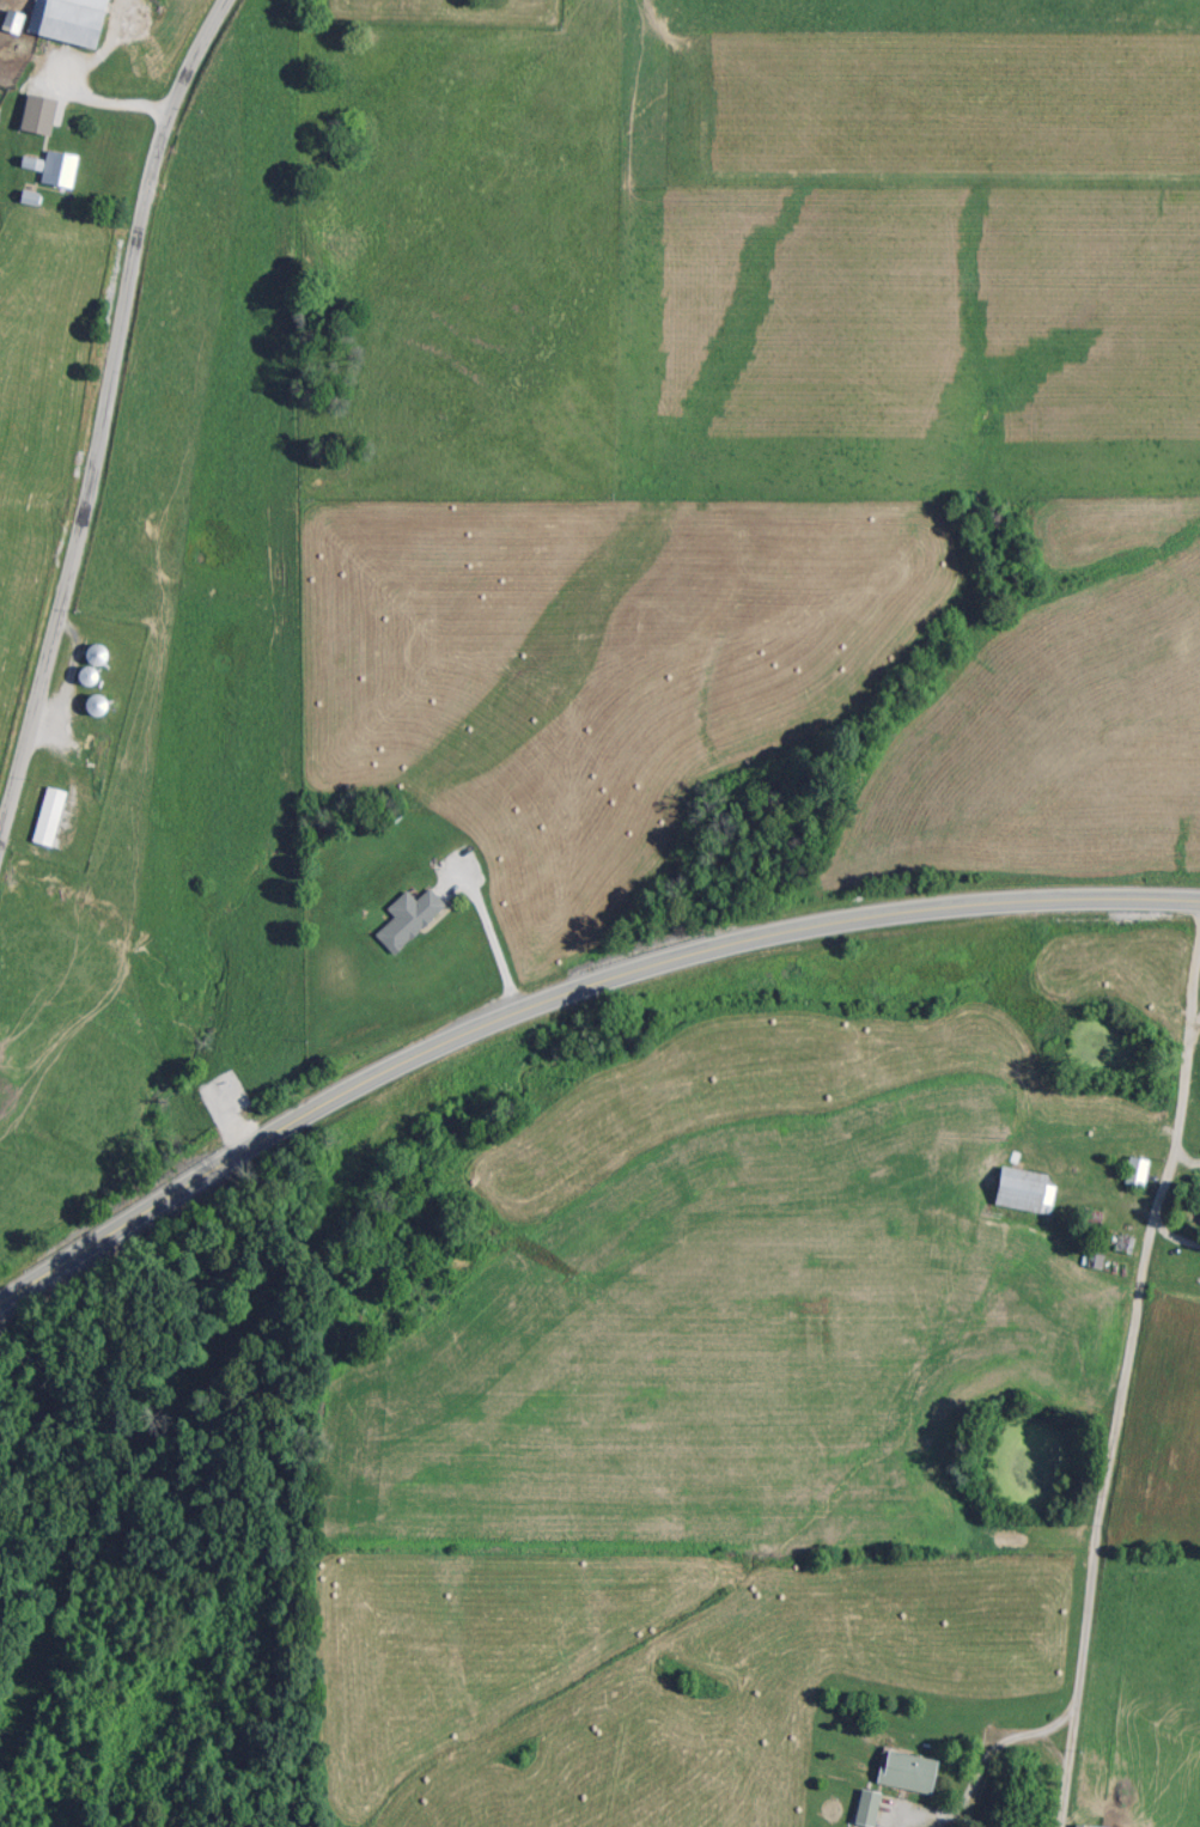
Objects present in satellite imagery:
building: (72, 19)
road: (109, 105)
building: (61, 165)
road: (103, 416)
building: (99, 651)
building: (51, 814)
building: (412, 915)
road: (485, 942)
road: (565, 989)
road: (1195, 1021)
building: (1132, 1169)
building: (1017, 1186)
building: (1199, 1218)
road: (1122, 1391)
road: (1052, 1750)
building: (912, 1768)
road: (981, 1772)
building: (870, 1804)
building: (1088, 1825)

